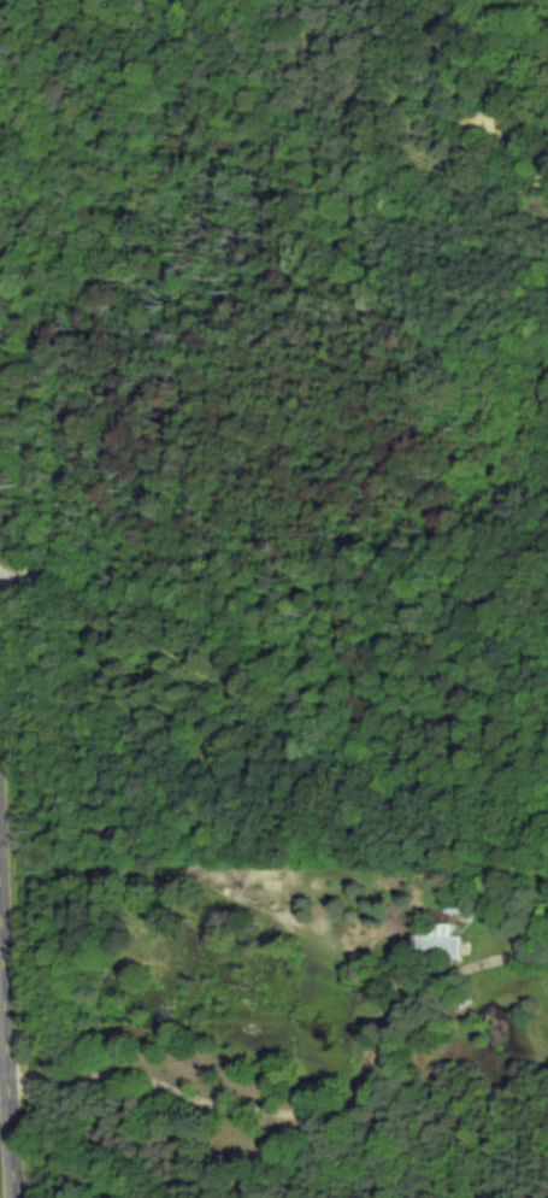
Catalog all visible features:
building: (435, 940)
road: (2, 1080)
road: (5, 1090)
road: (311, 1110)

